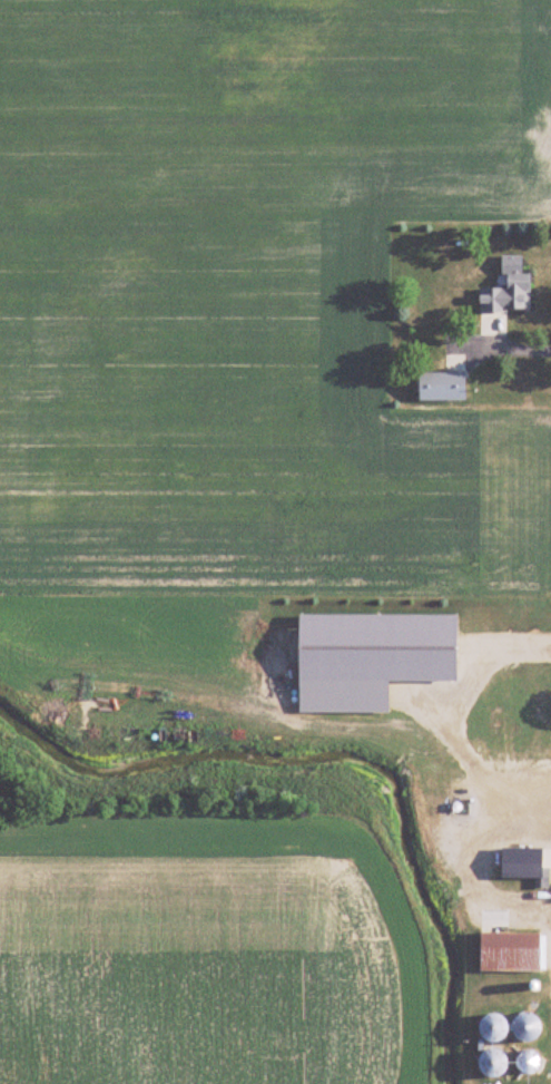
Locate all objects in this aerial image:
building: (508, 295)
road: (500, 346)
building: (441, 385)
road: (449, 722)
road: (533, 807)
building: (524, 863)
road: (472, 875)
building: (510, 951)
building: (492, 1026)
building: (525, 1026)
building: (491, 1063)
building: (527, 1063)

